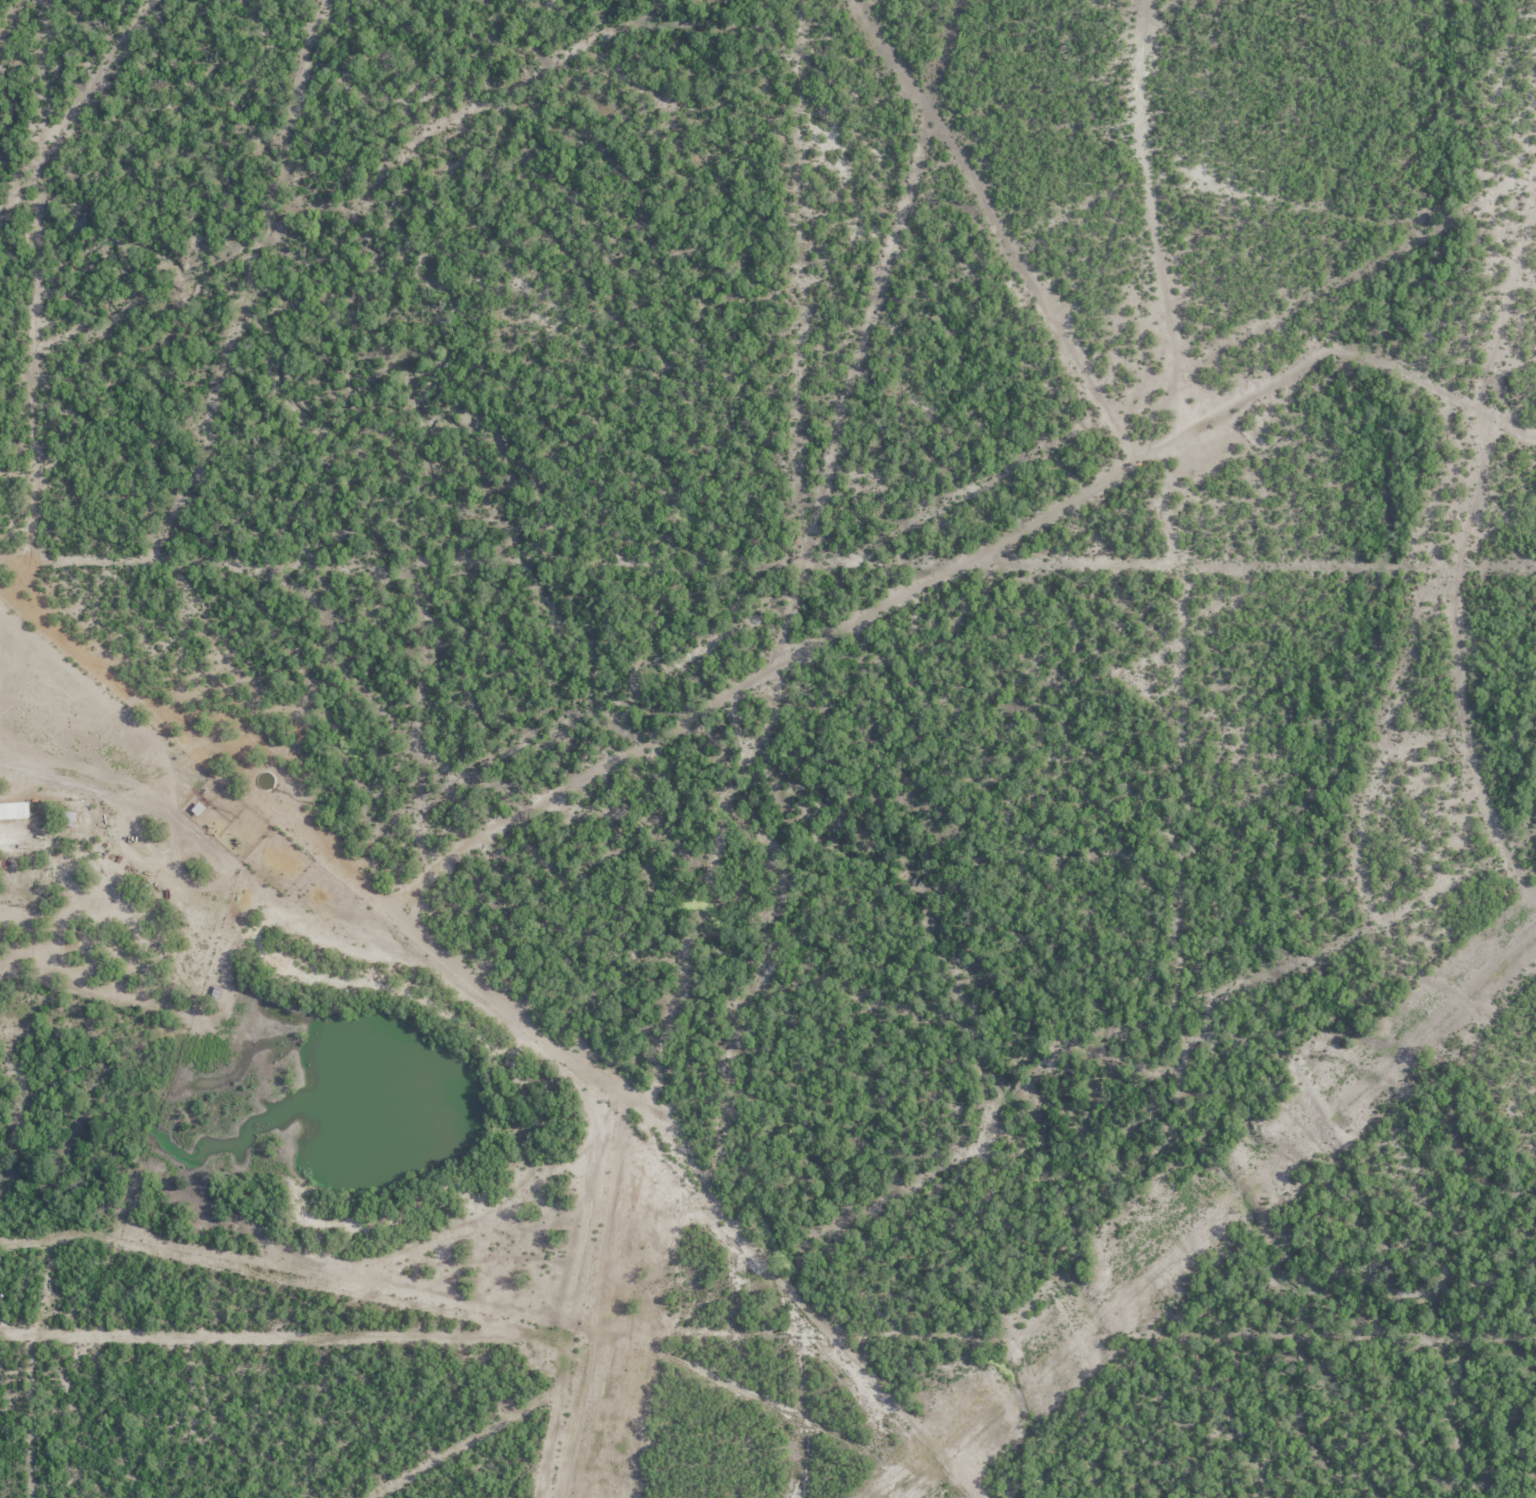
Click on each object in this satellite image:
building: (13, 811)

